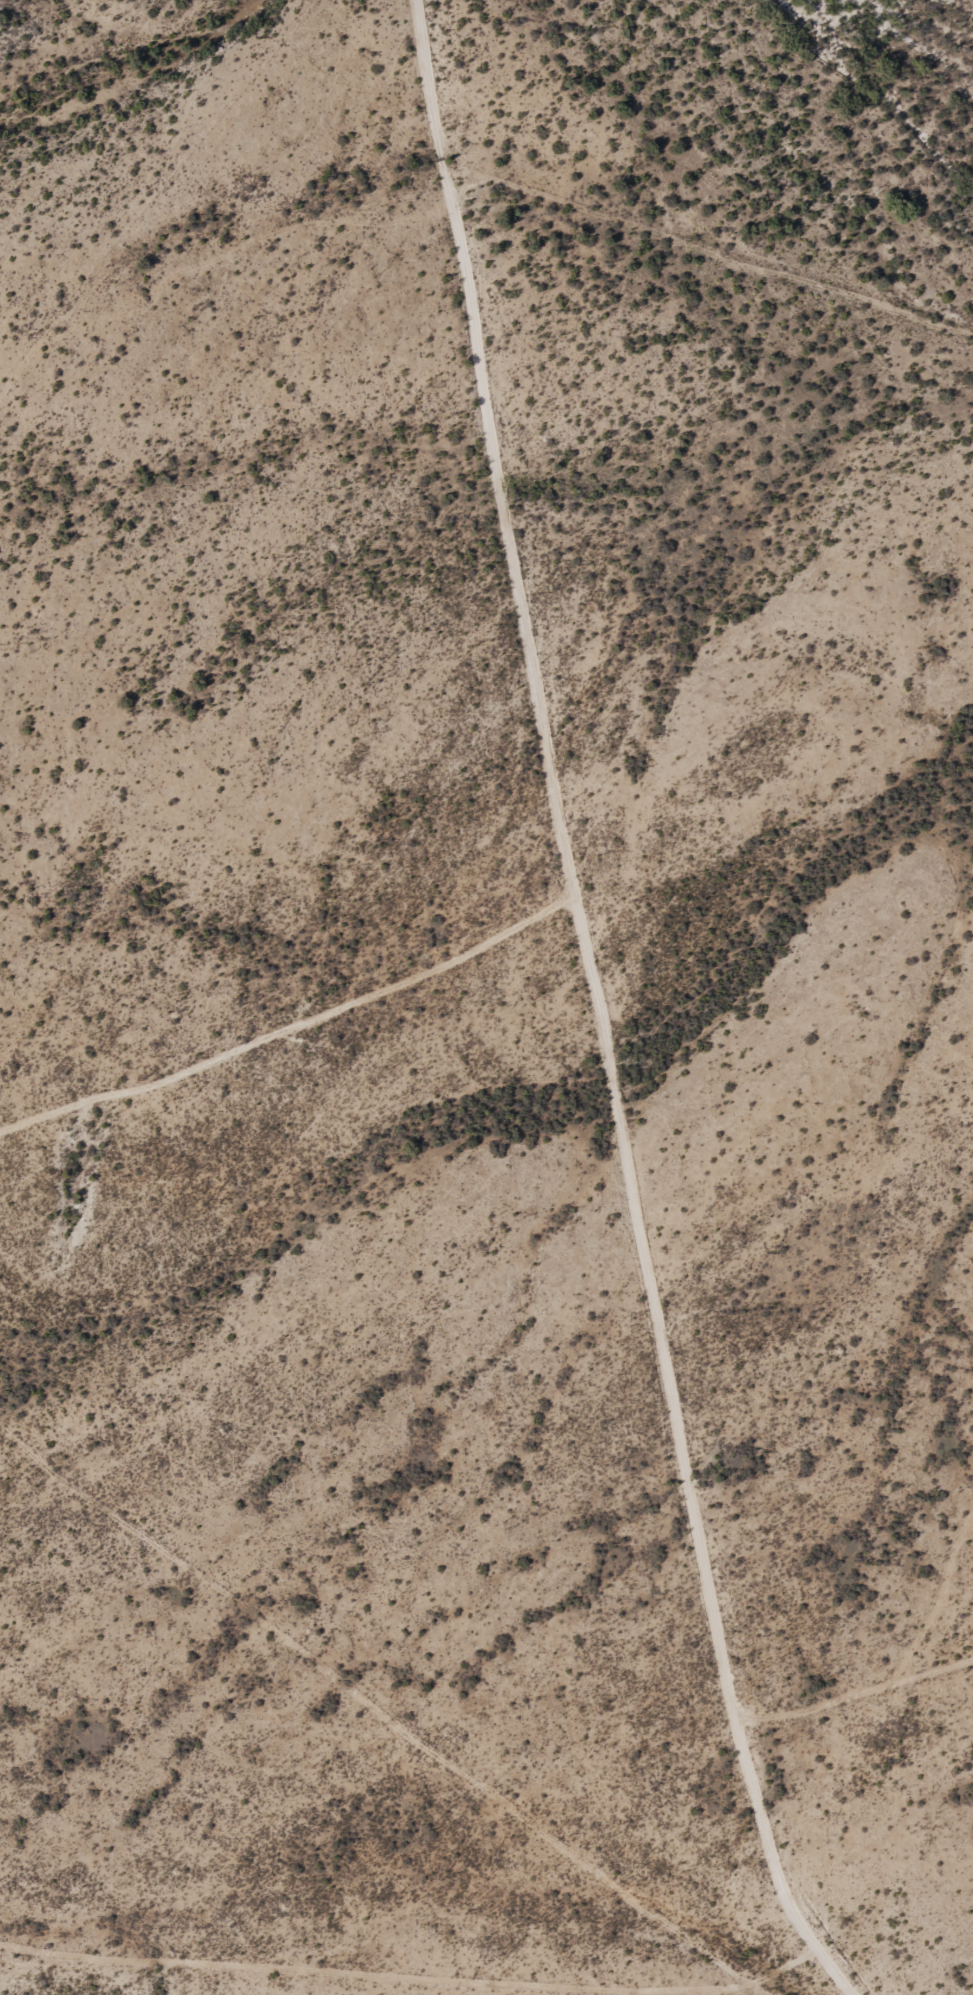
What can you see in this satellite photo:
road: (278, 969)
road: (577, 1007)

